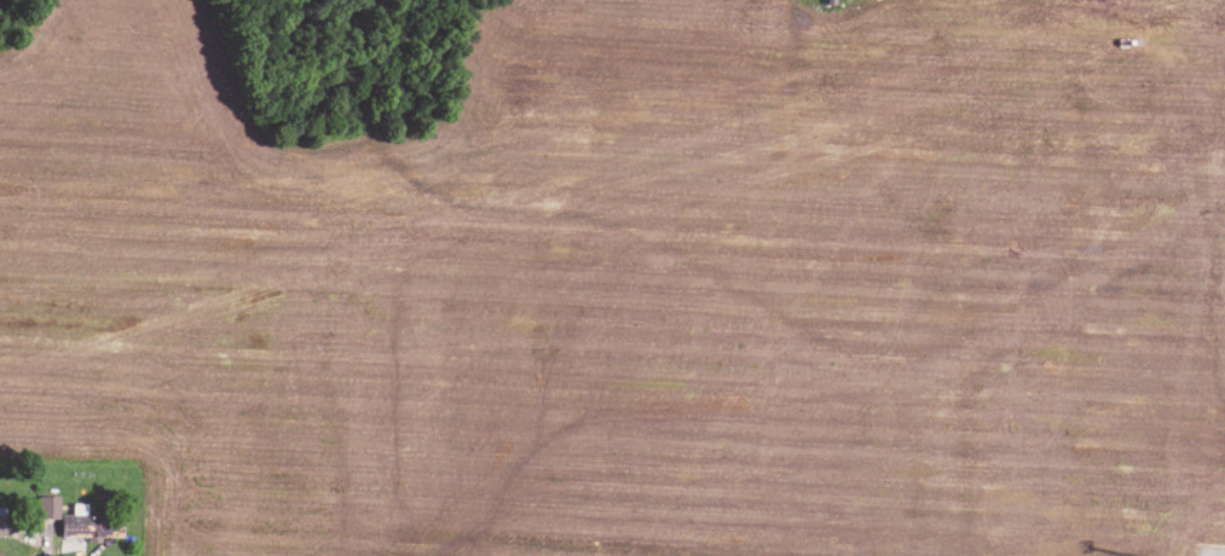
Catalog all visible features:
building: (79, 516)
building: (2, 517)

